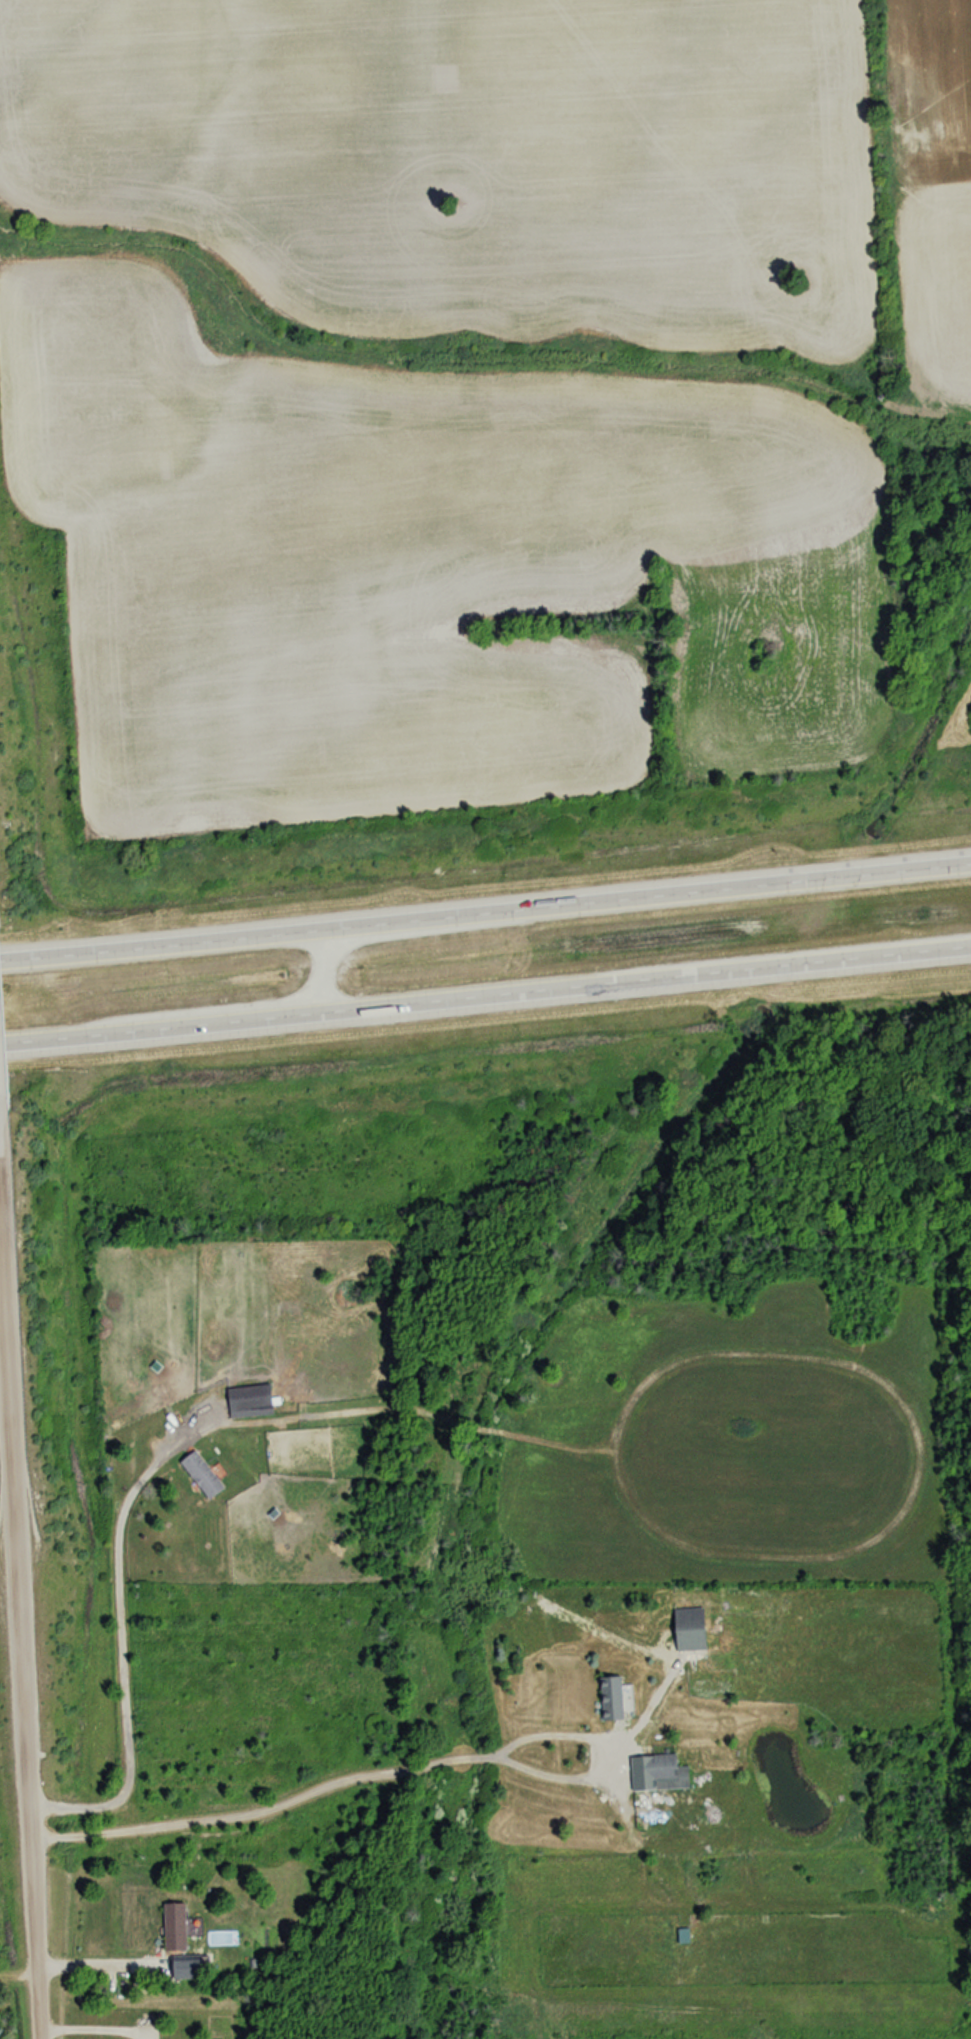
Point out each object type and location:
road: (485, 906)
road: (485, 991)
building: (246, 1401)
building: (198, 1475)
building: (684, 1630)
road: (122, 1668)
building: (610, 1697)
road: (18, 1716)
road: (393, 1767)
building: (655, 1773)
building: (172, 1926)
building: (681, 1935)

